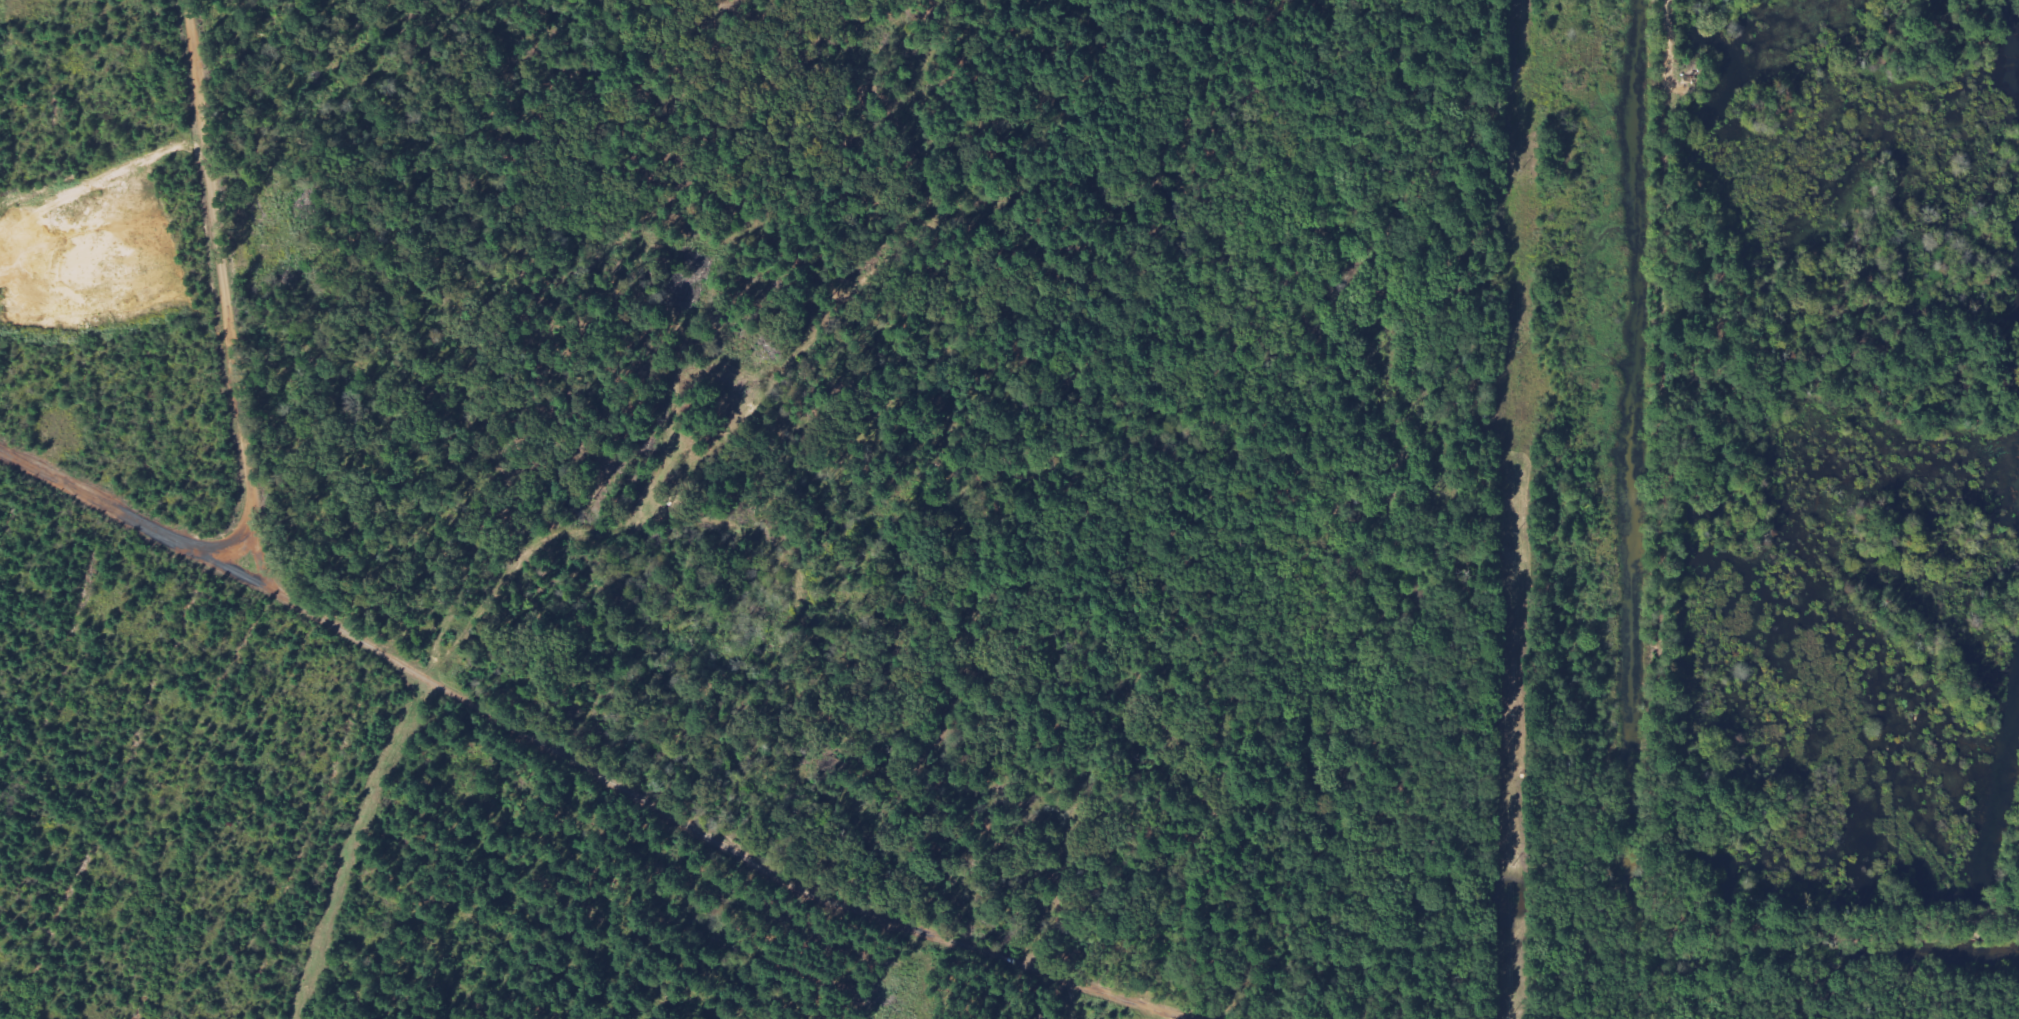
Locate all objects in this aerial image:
road: (238, 406)
road: (682, 825)

